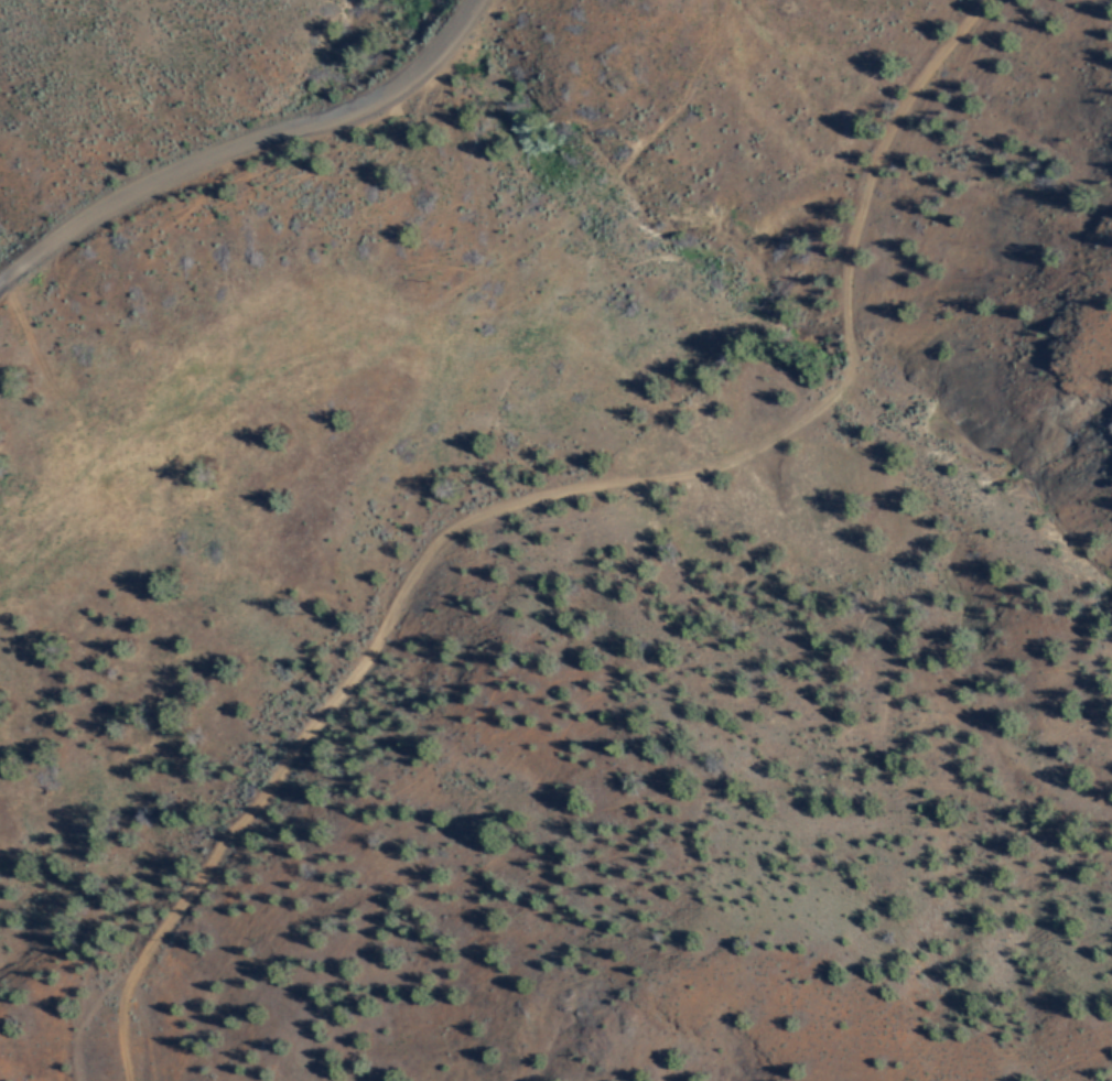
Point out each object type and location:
road: (172, 128)

